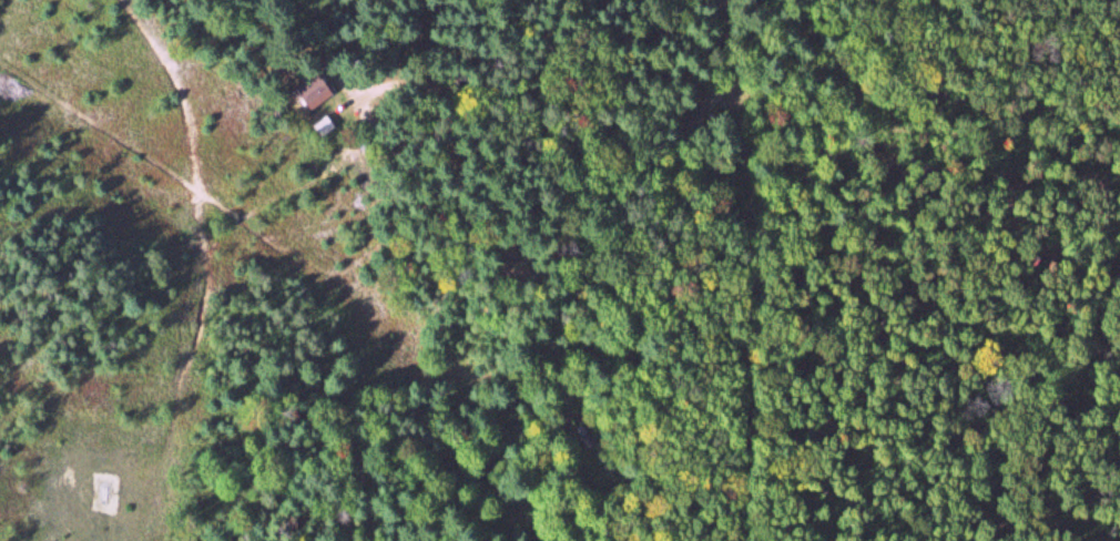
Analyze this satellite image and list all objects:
building: (309, 91)
road: (268, 243)

